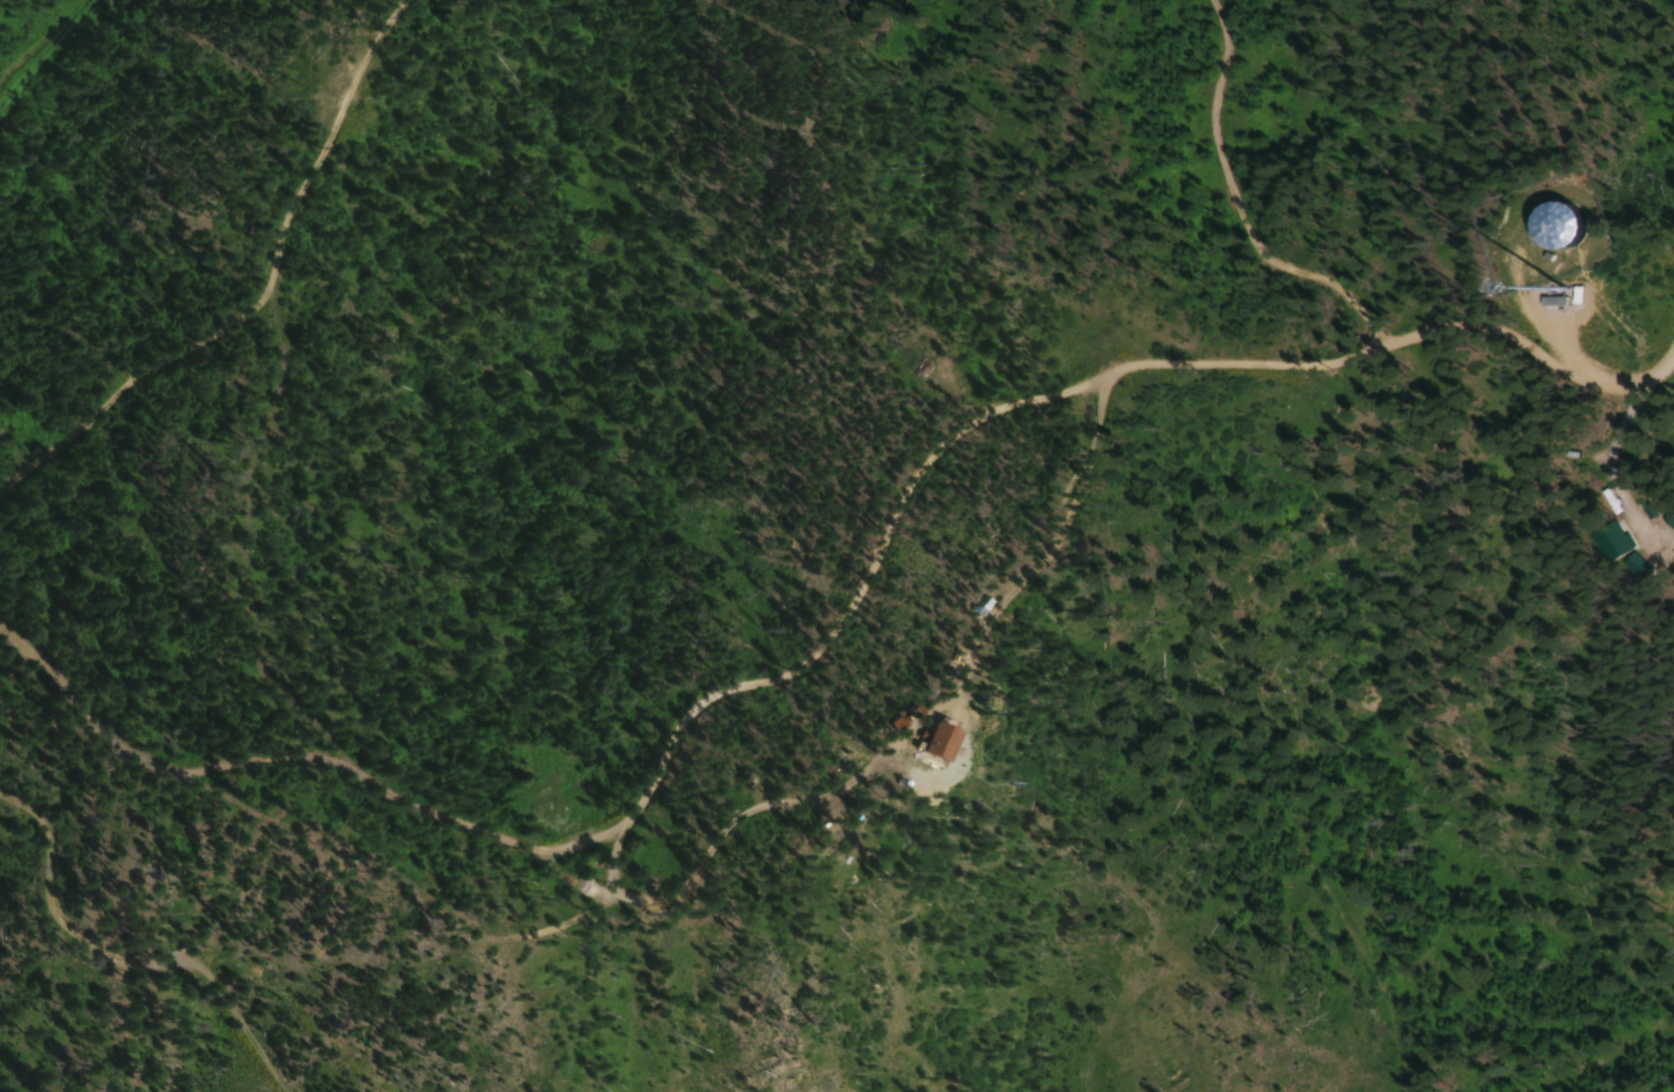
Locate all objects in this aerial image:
building: (1581, 224)
road: (1613, 382)

